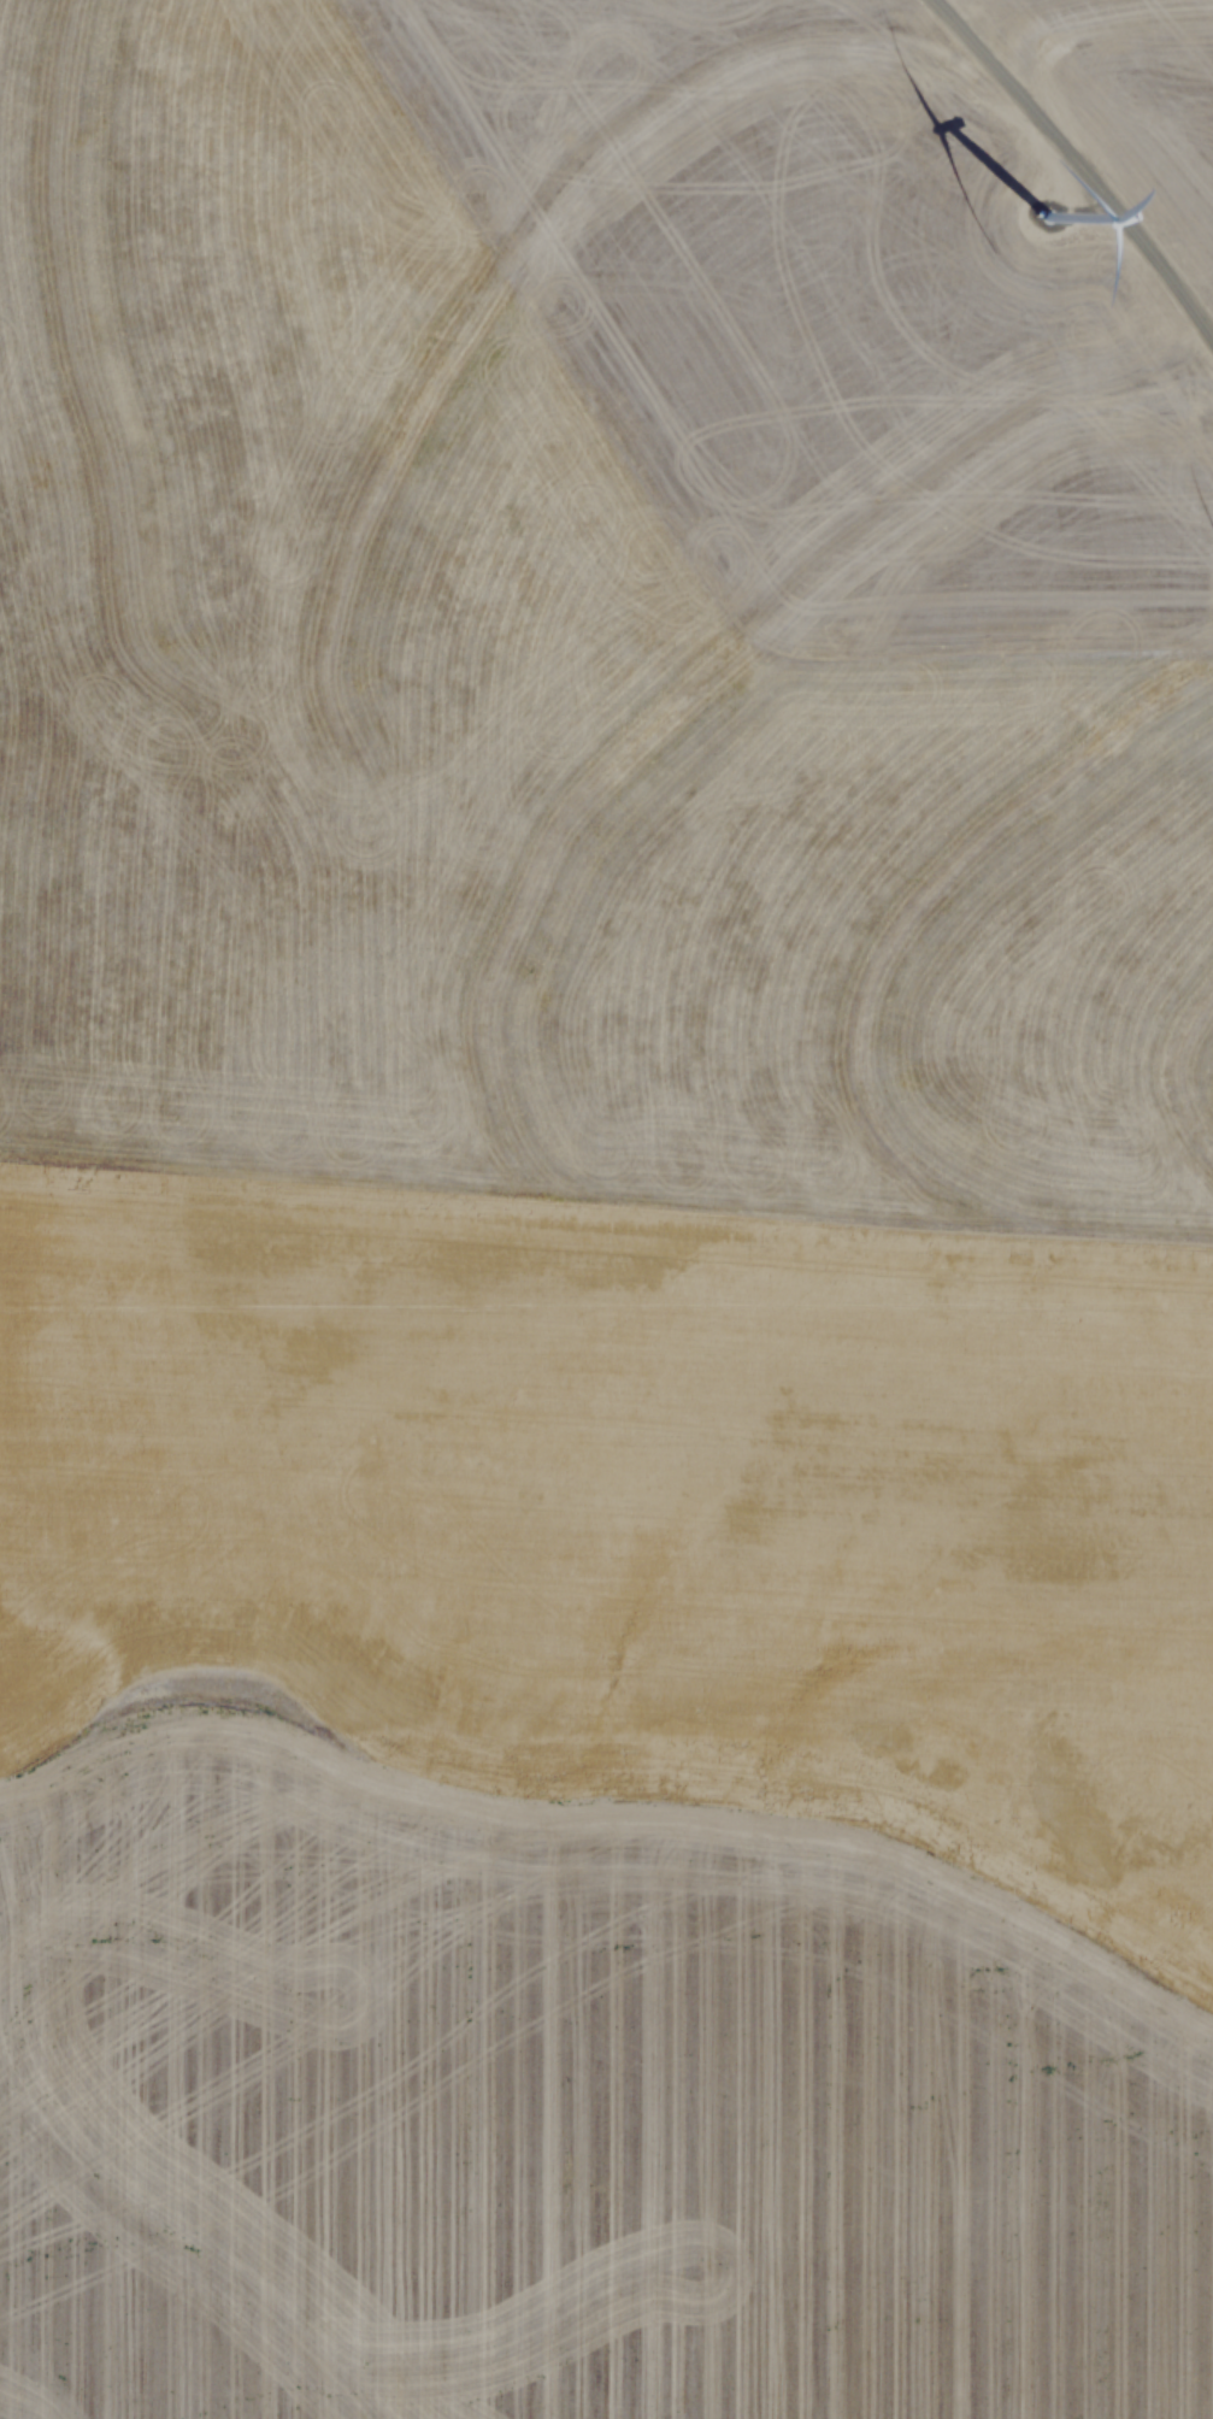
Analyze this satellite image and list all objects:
road: (1083, 163)
wind turbine: (1043, 229)

